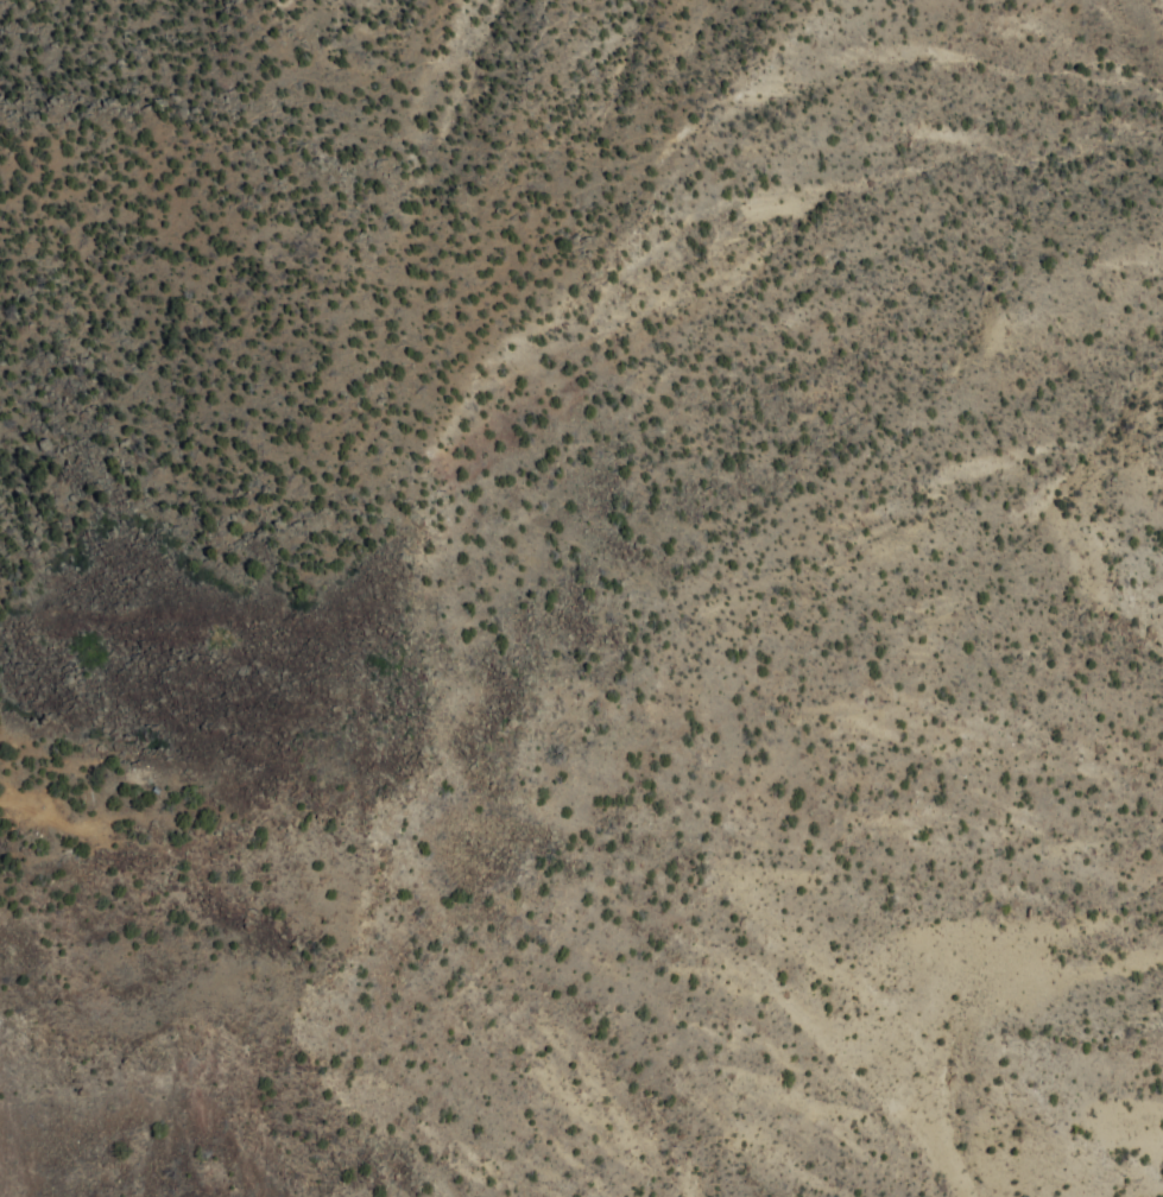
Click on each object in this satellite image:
road: (21, 825)

